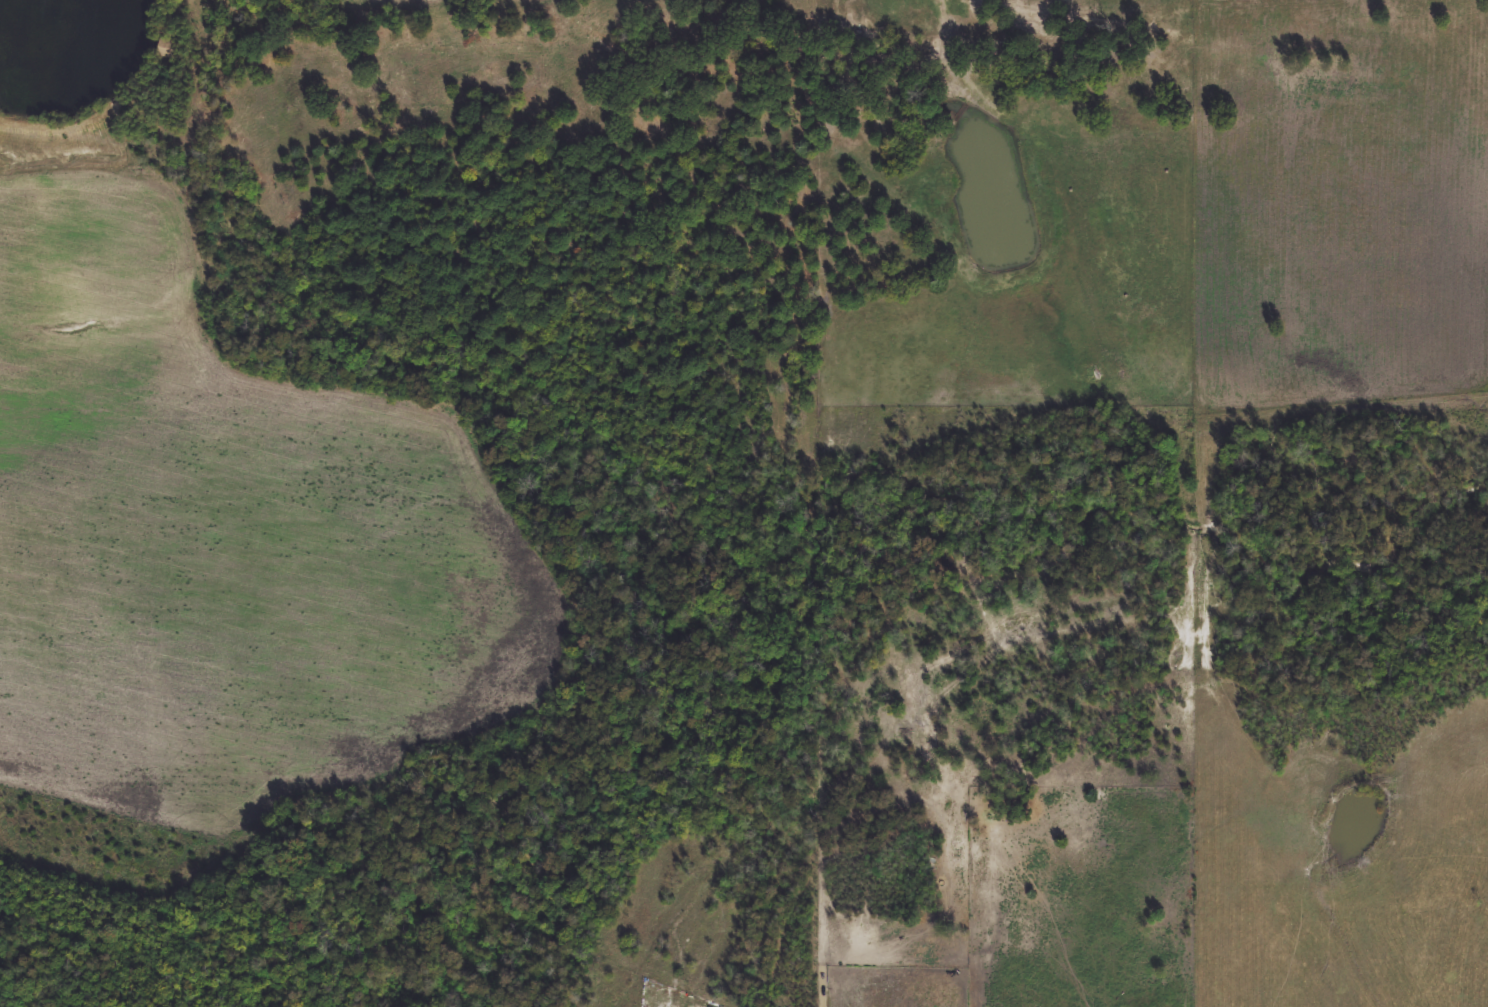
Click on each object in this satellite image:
building: (168, 49)

